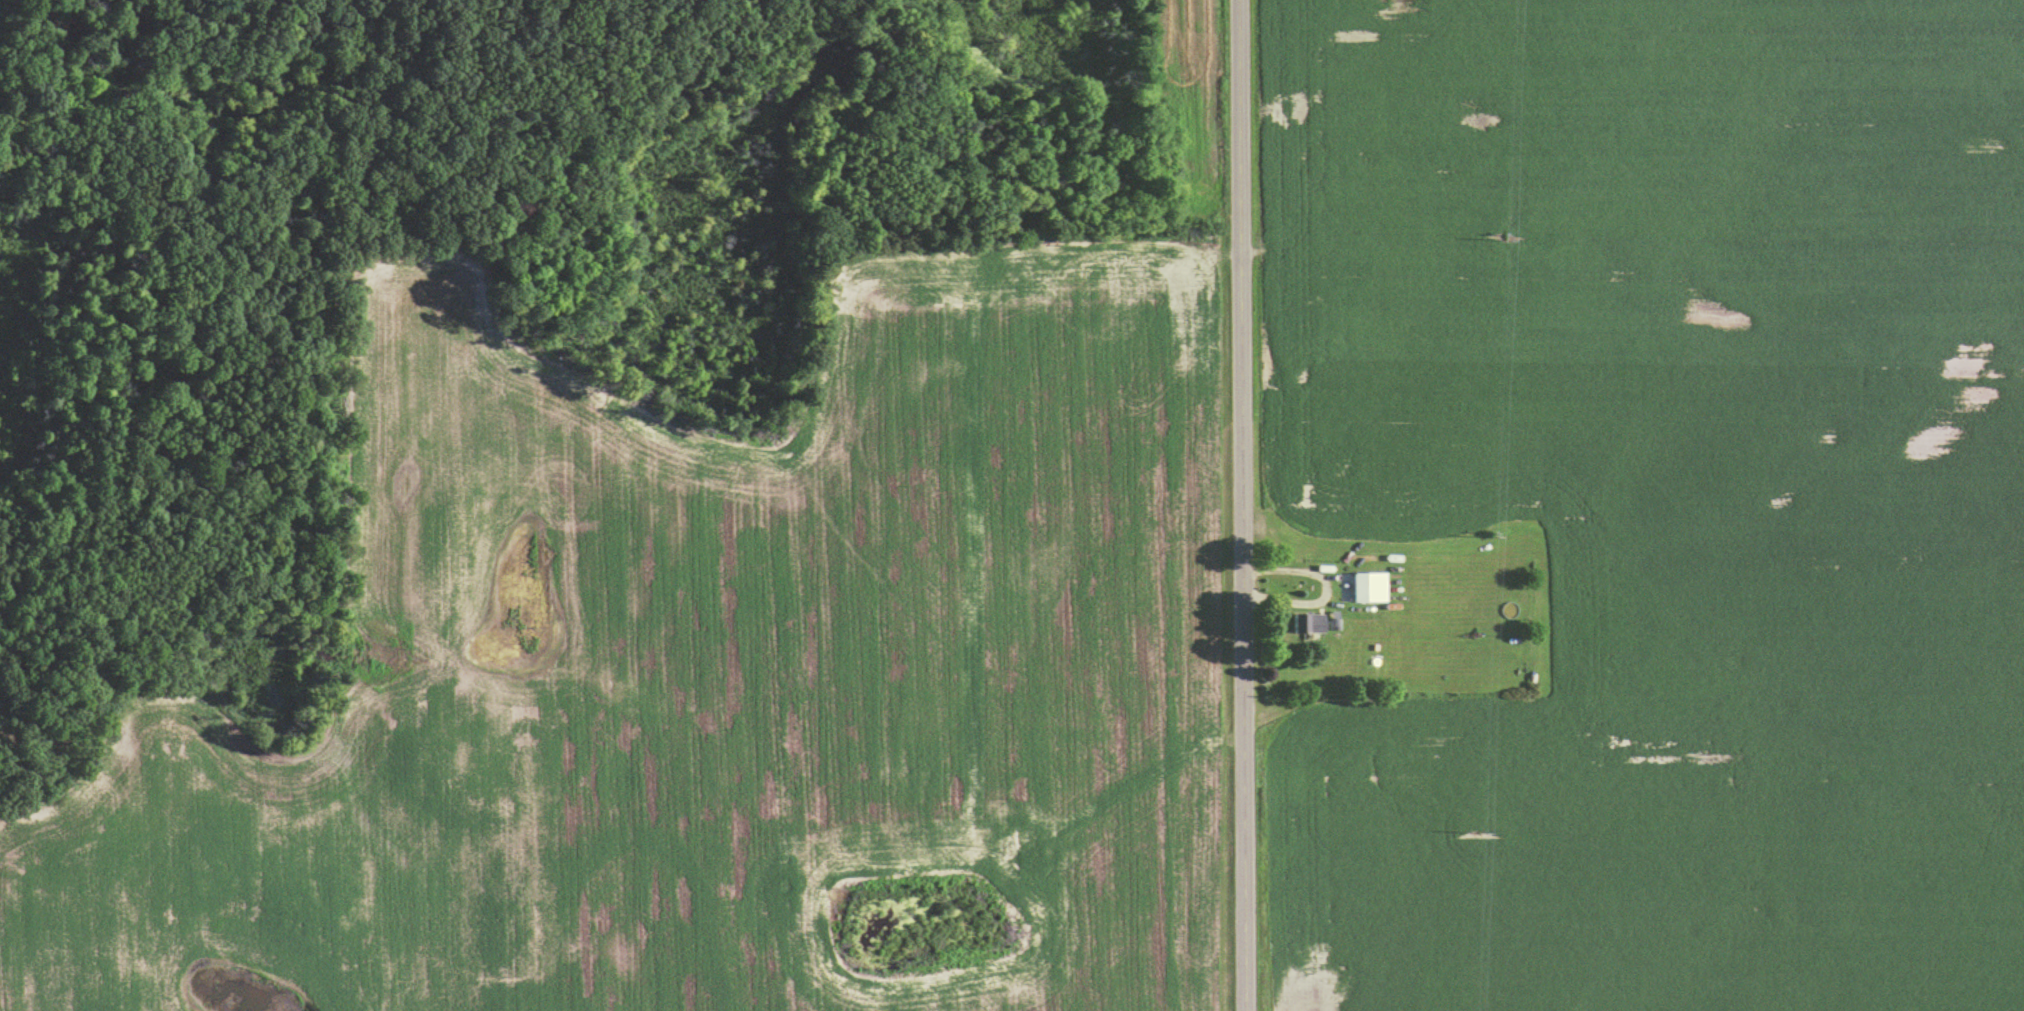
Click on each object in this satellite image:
road: (1243, 505)
building: (1368, 589)
building: (1306, 626)

